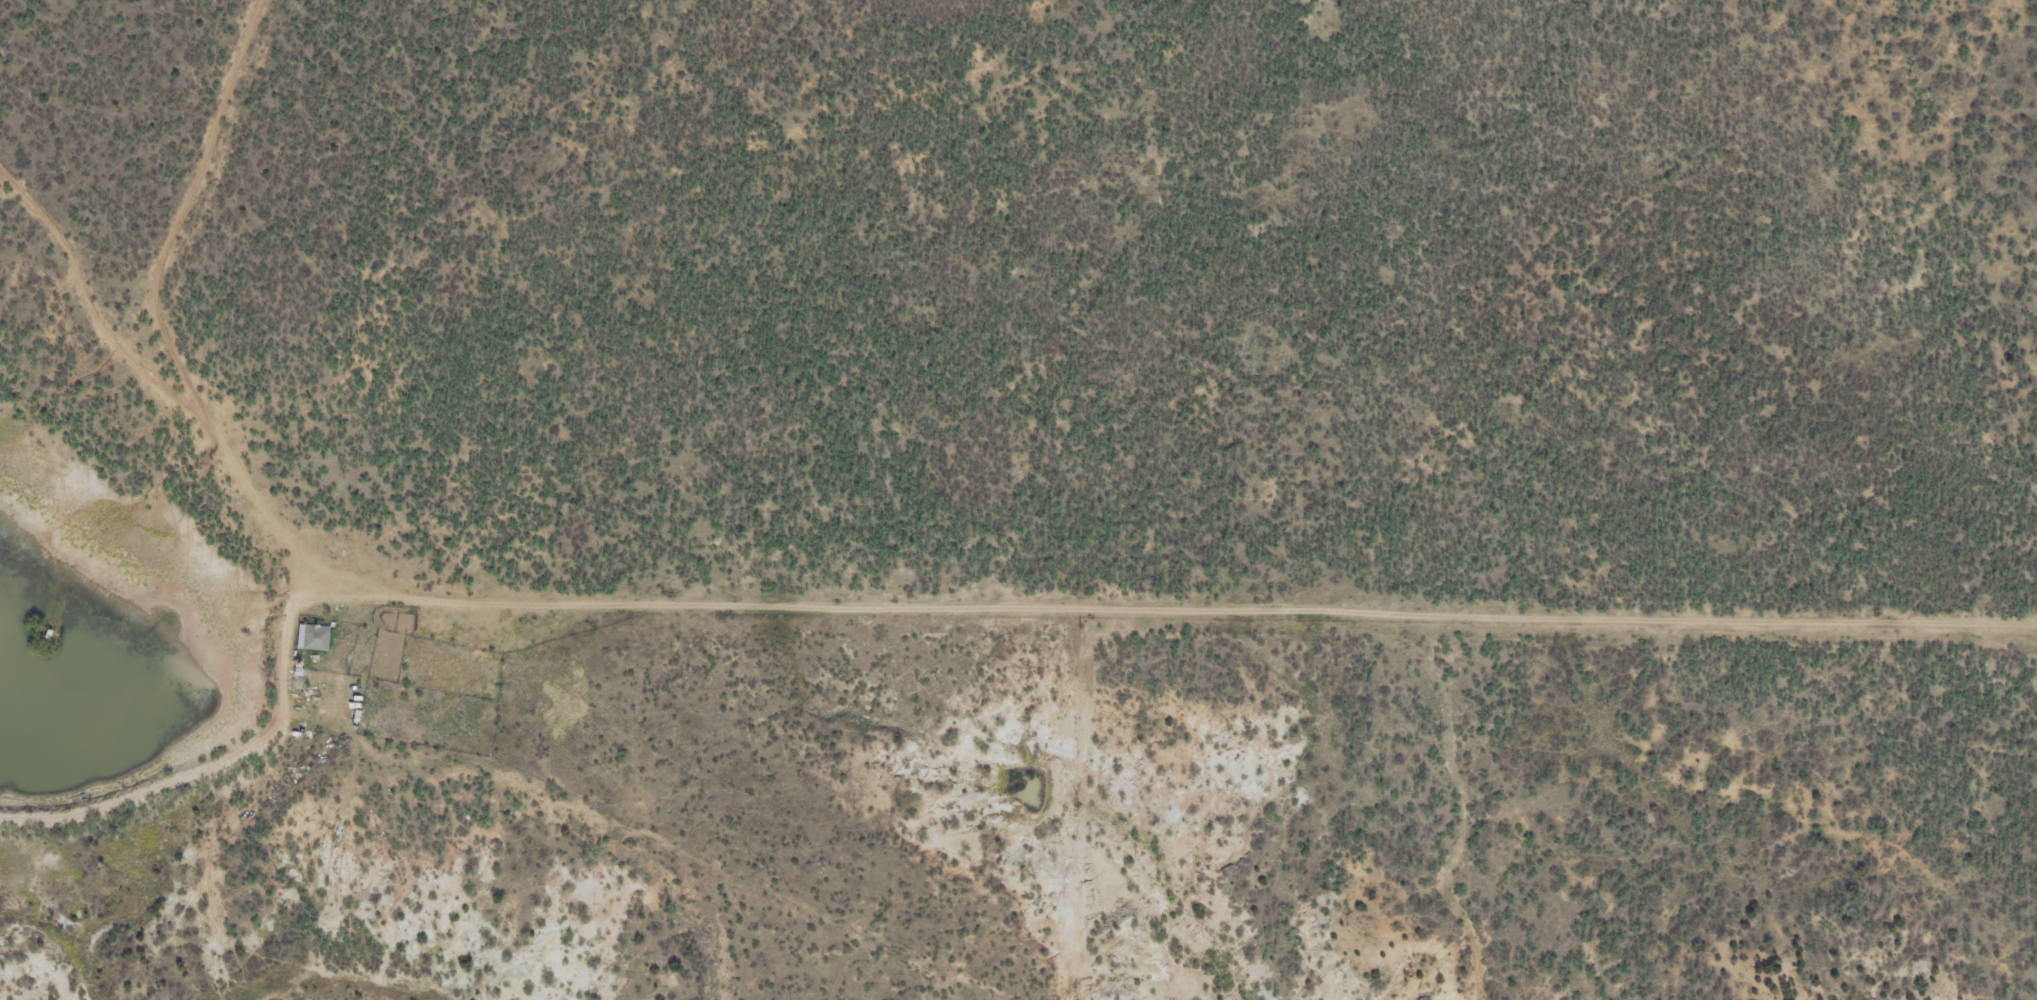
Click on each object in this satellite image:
road: (857, 592)
building: (309, 639)
road: (233, 788)

